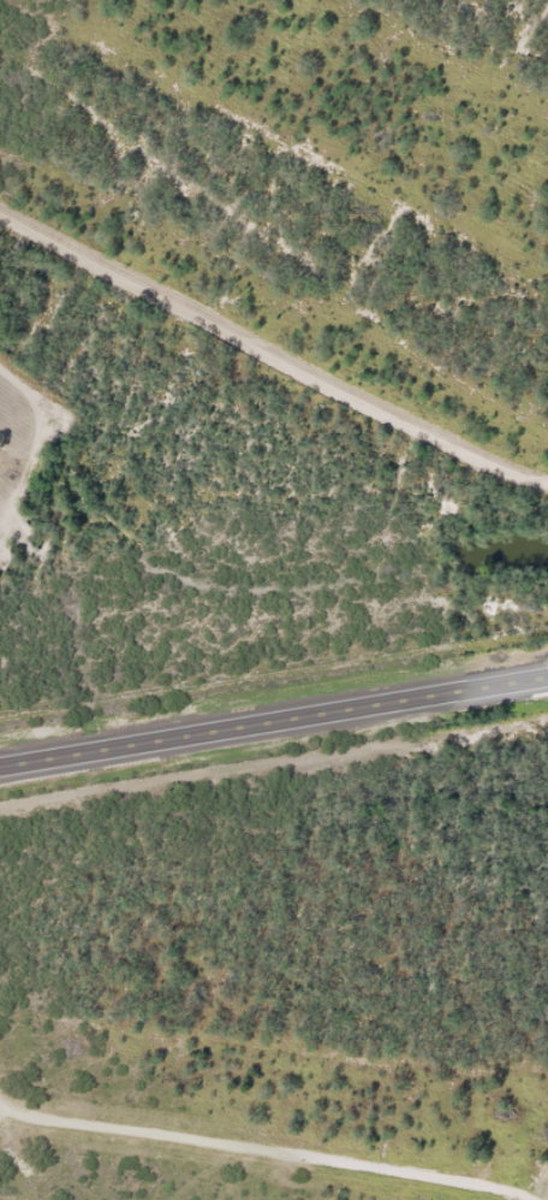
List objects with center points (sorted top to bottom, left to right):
road: (274, 720)

